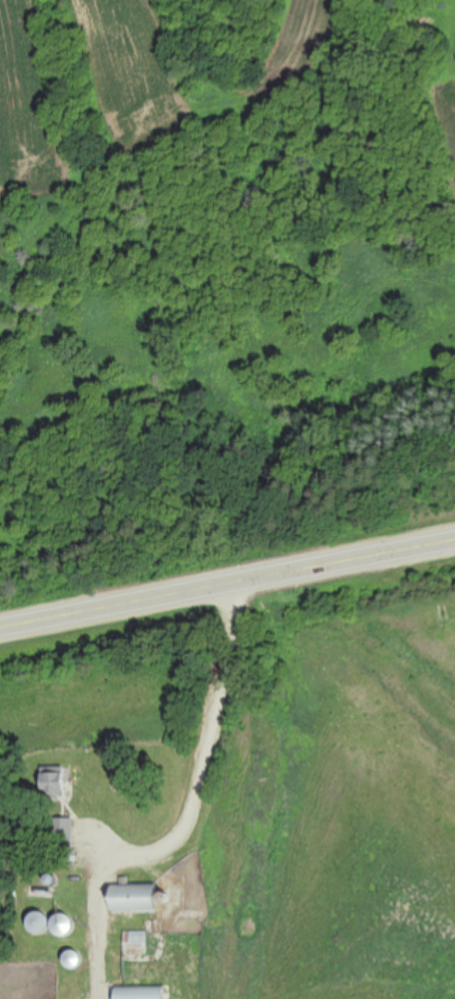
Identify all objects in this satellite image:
road: (227, 585)
building: (52, 786)
crop: (341, 791)
road: (188, 818)
building: (63, 841)
building: (133, 899)
building: (49, 925)
building: (136, 944)
building: (71, 962)
building: (139, 993)

